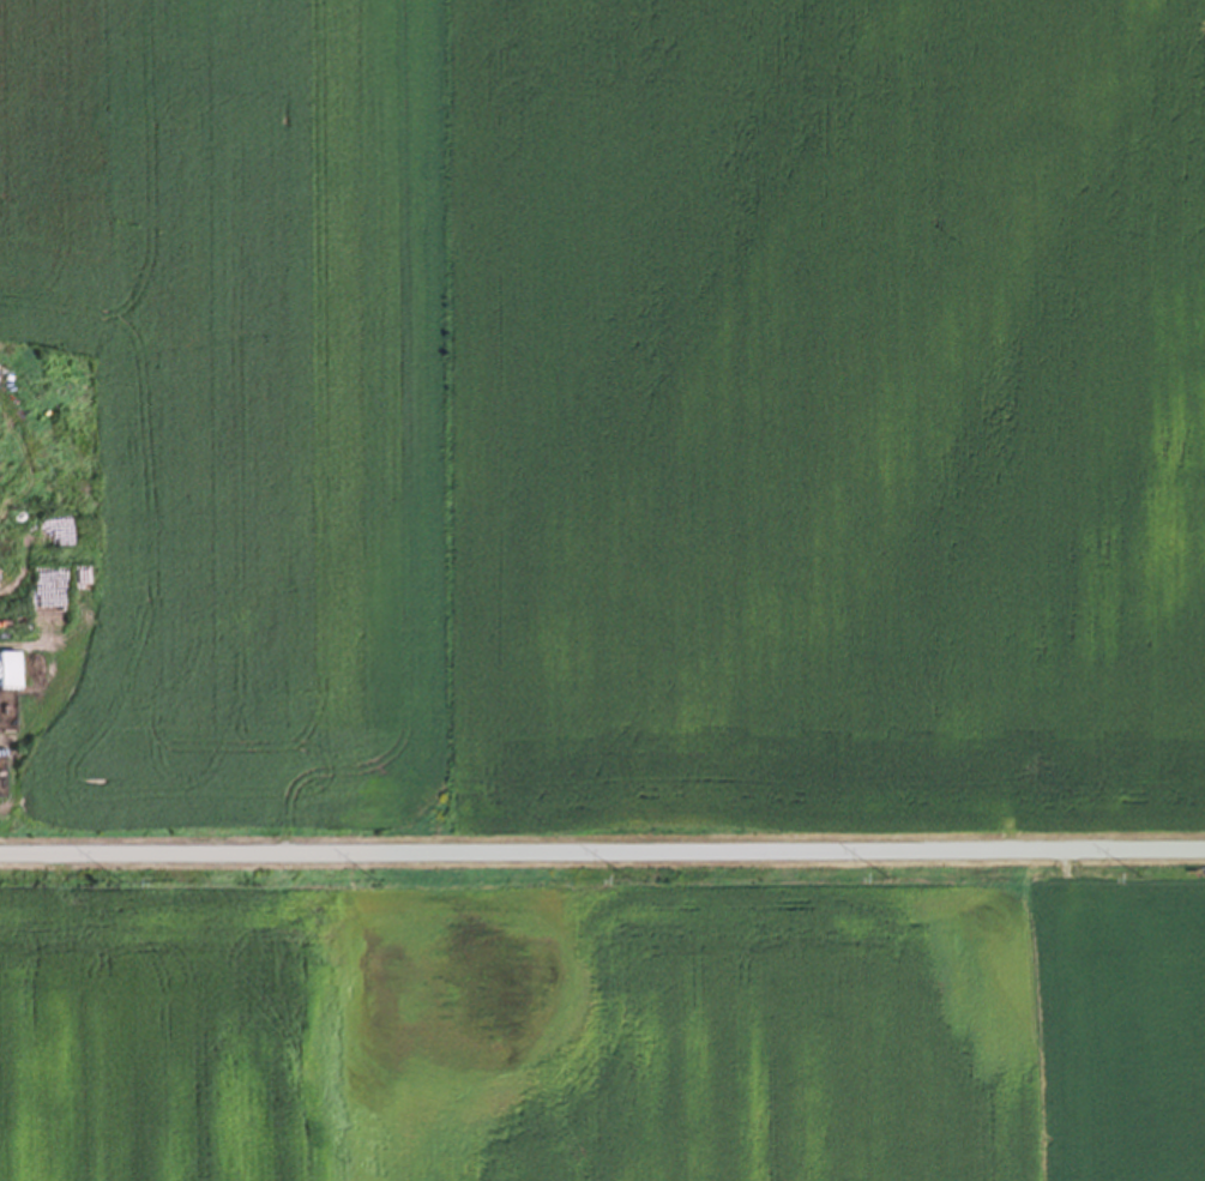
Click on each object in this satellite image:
building: (25, 526)
building: (7, 674)
road: (602, 852)

